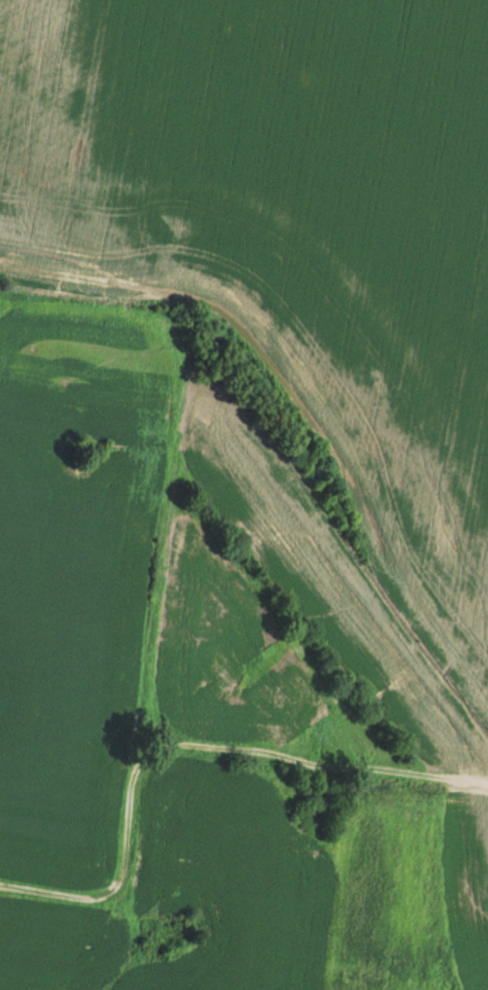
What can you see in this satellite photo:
road: (115, 929)

